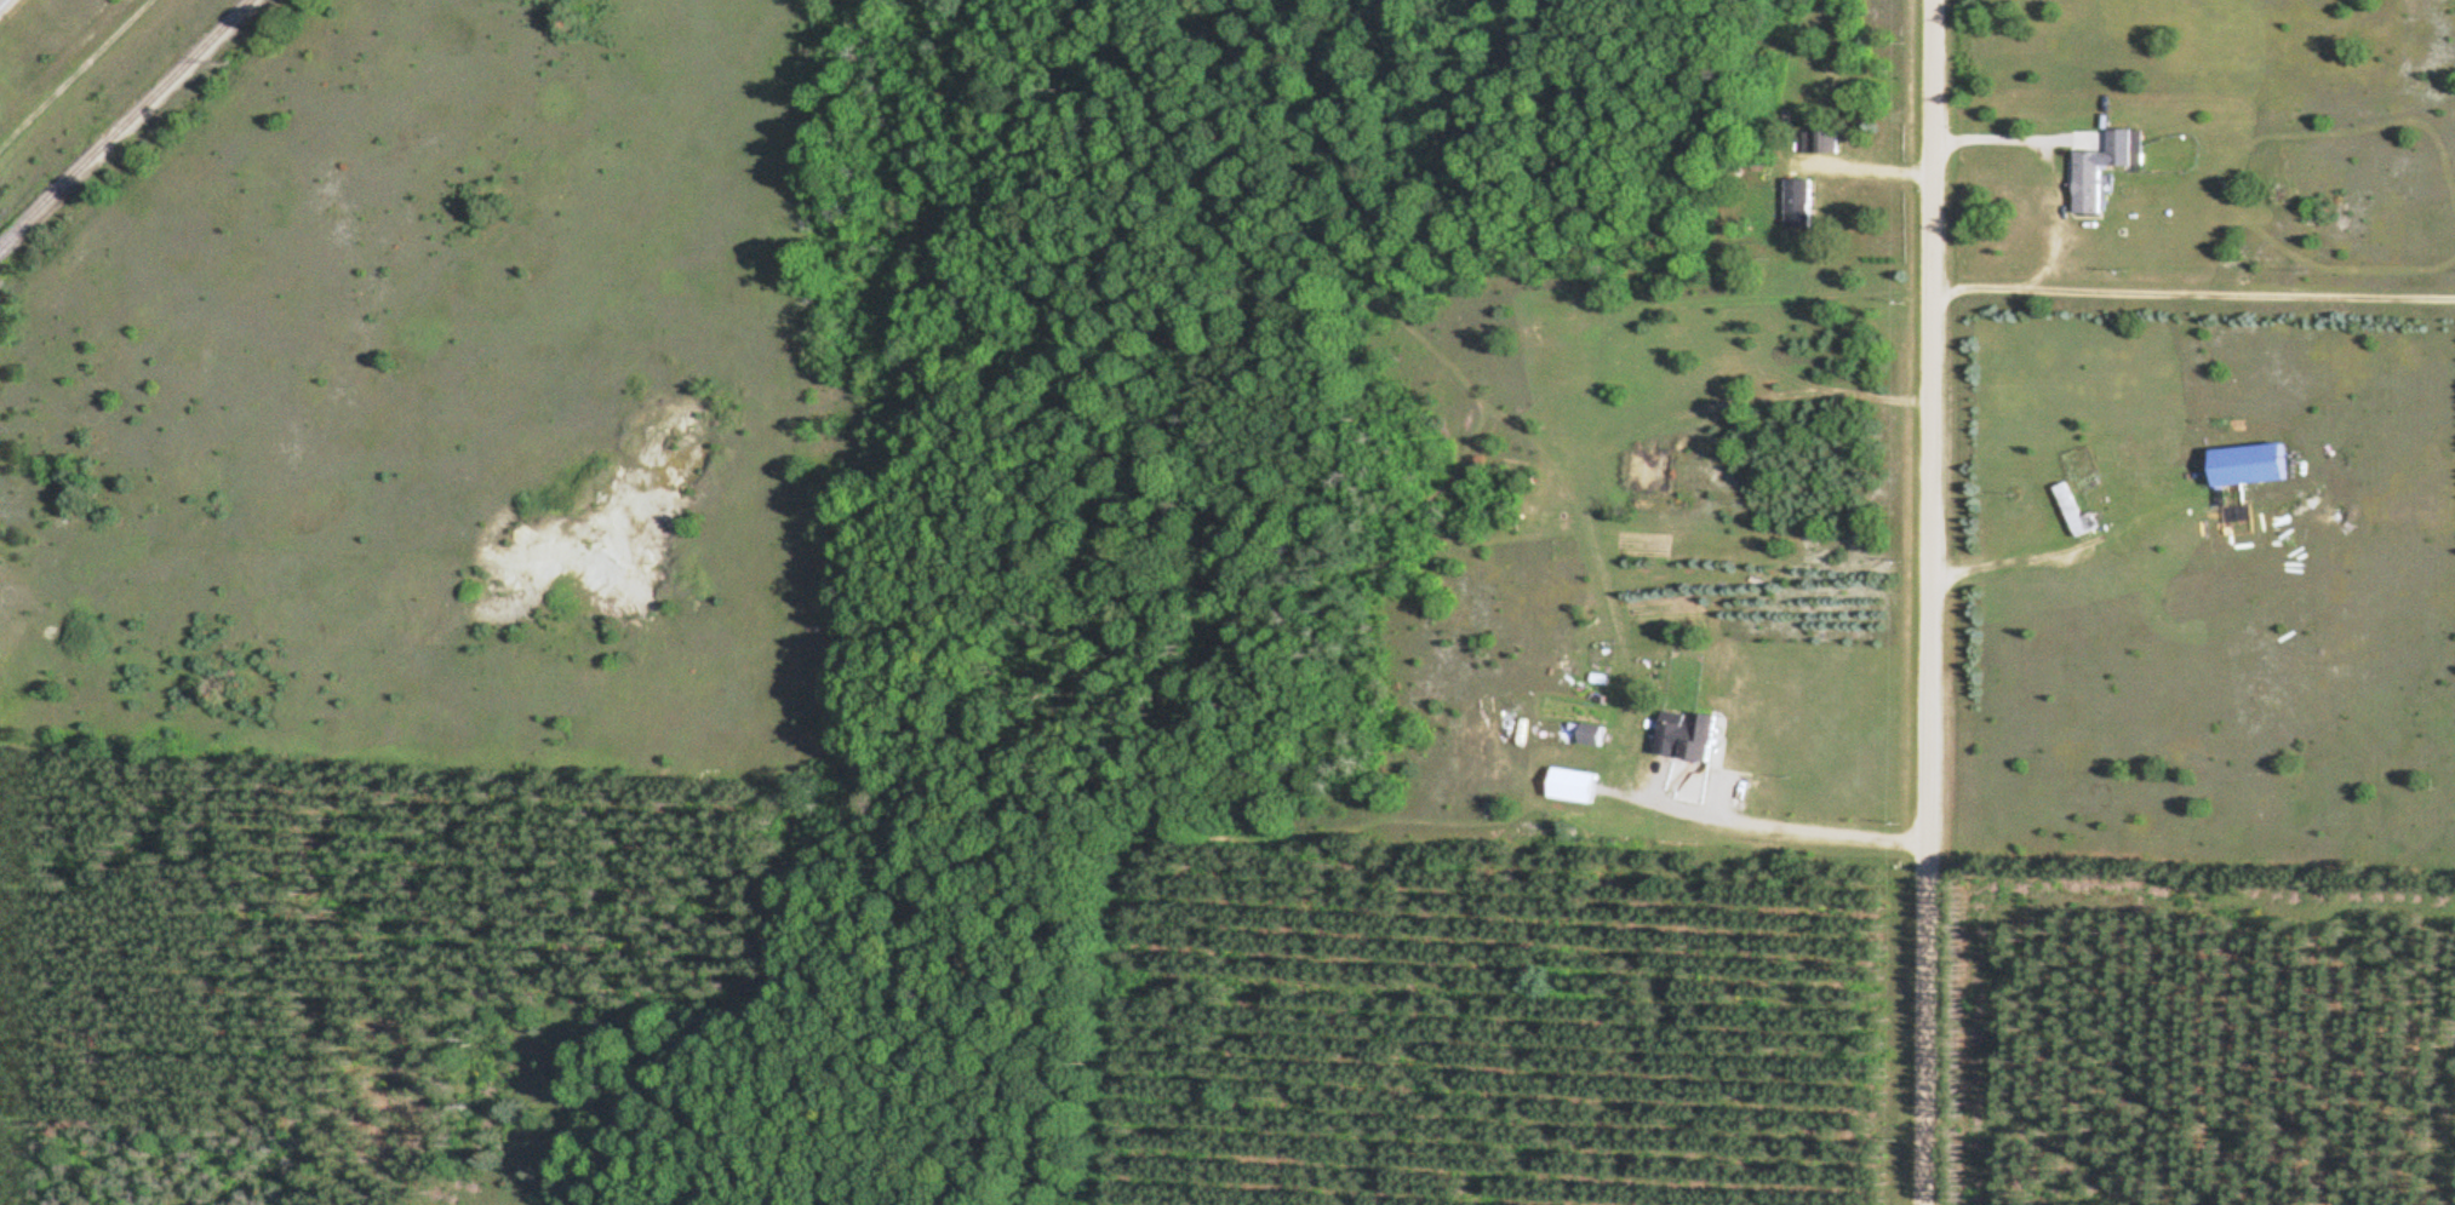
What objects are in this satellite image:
road: (74, 70)
railway: (125, 122)
road: (2016, 138)
building: (1816, 140)
road: (1866, 167)
building: (2082, 188)
building: (1795, 202)
road: (2193, 293)
building: (2243, 463)
building: (2071, 510)
road: (2016, 560)
road: (1930, 602)
building: (1586, 735)
building: (1681, 736)
road: (1722, 797)
road: (1781, 828)

